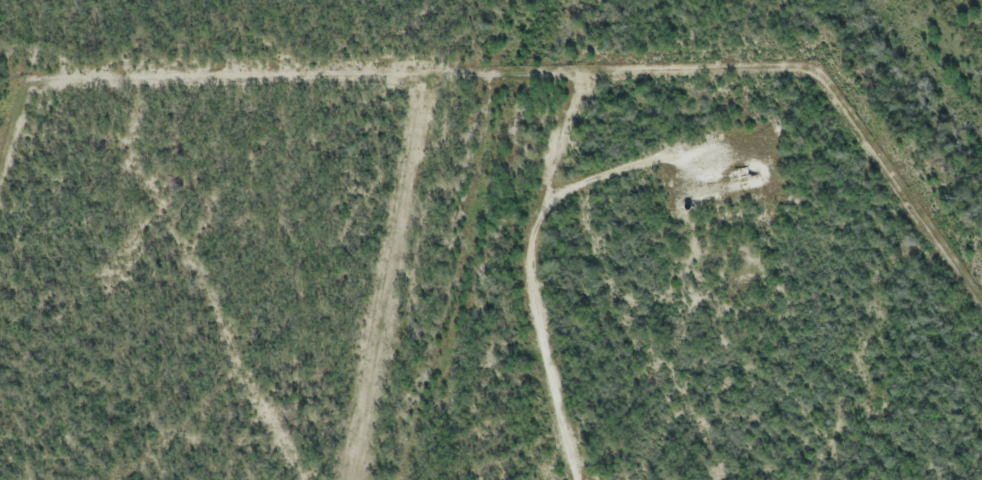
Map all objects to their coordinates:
road: (12, 22)
road: (557, 226)

